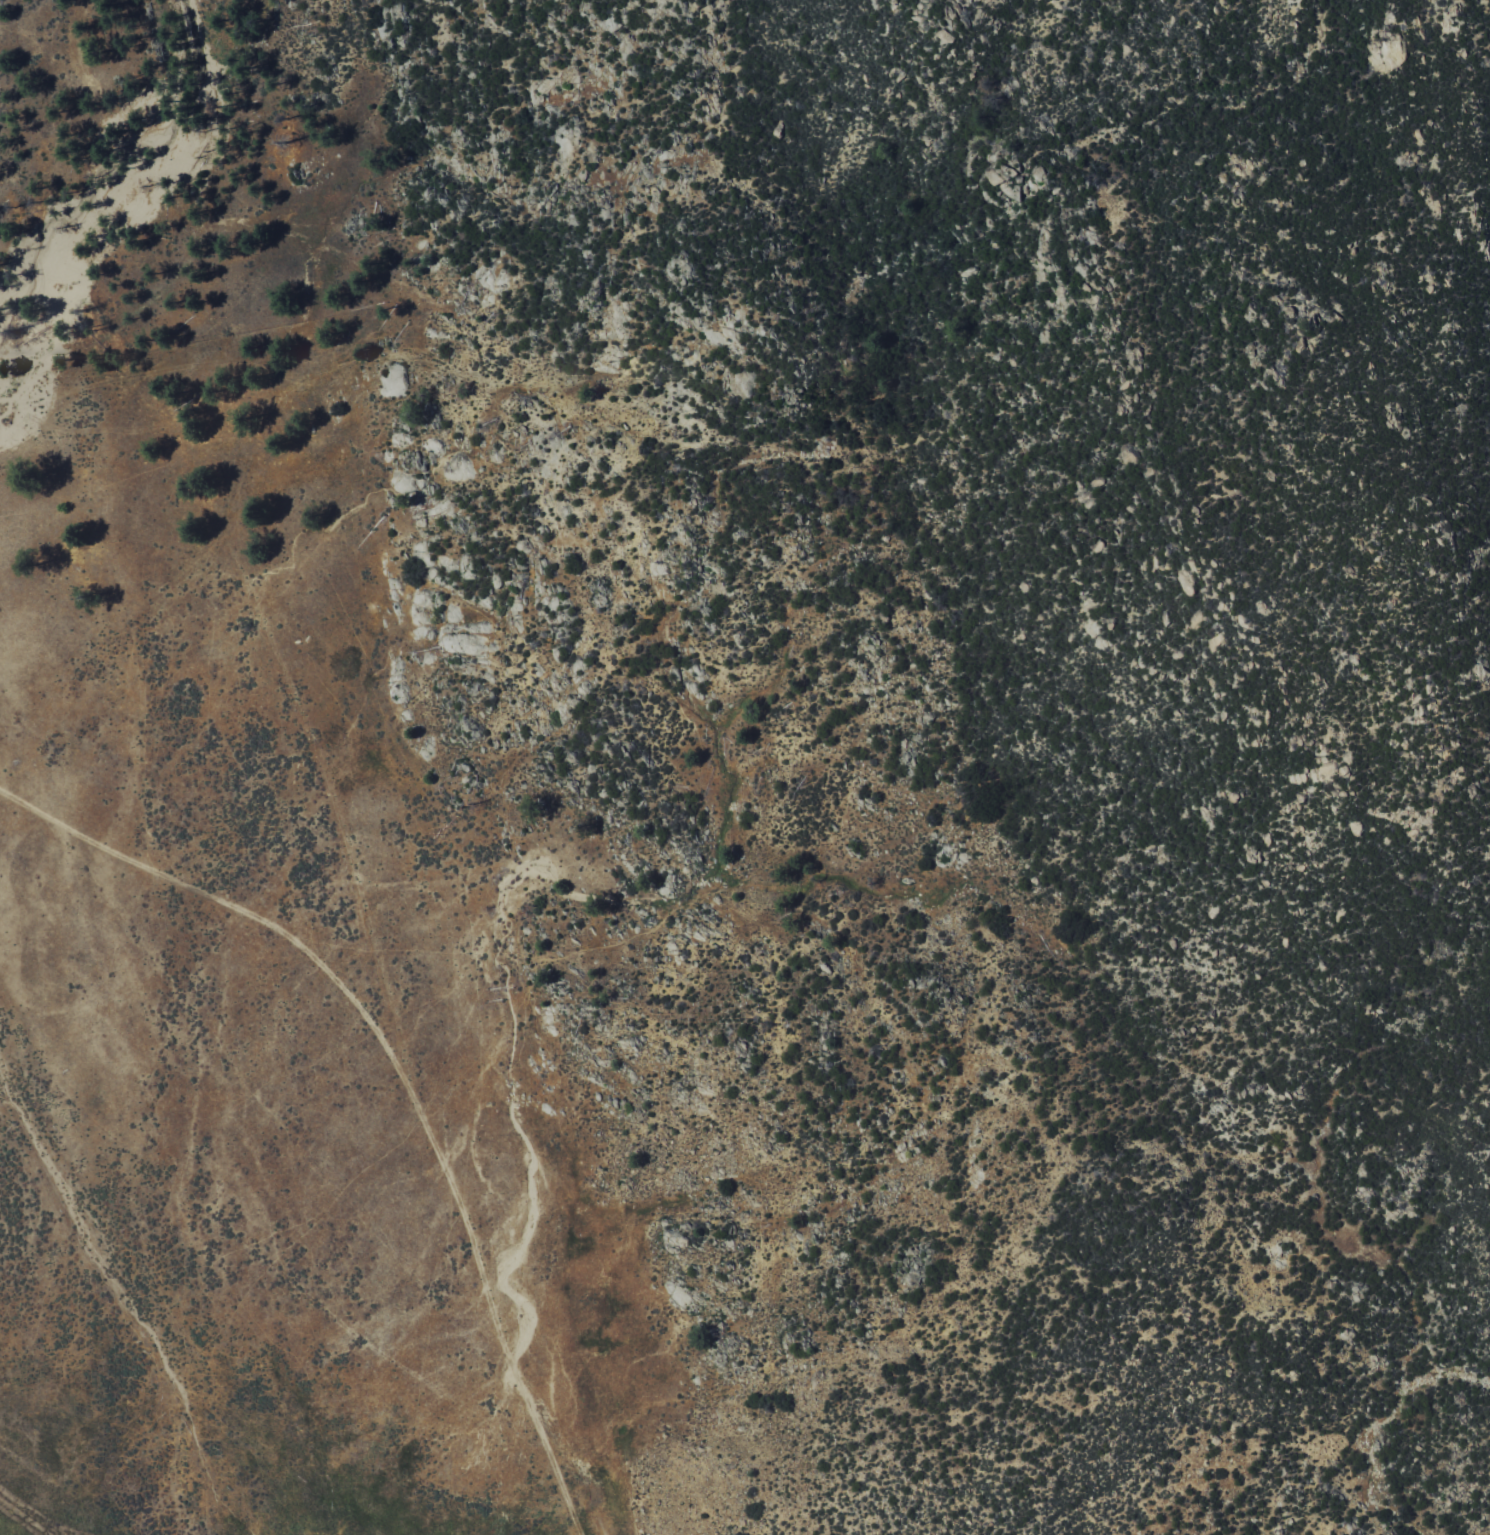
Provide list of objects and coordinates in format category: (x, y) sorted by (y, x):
airport runway: (28, 1514)

